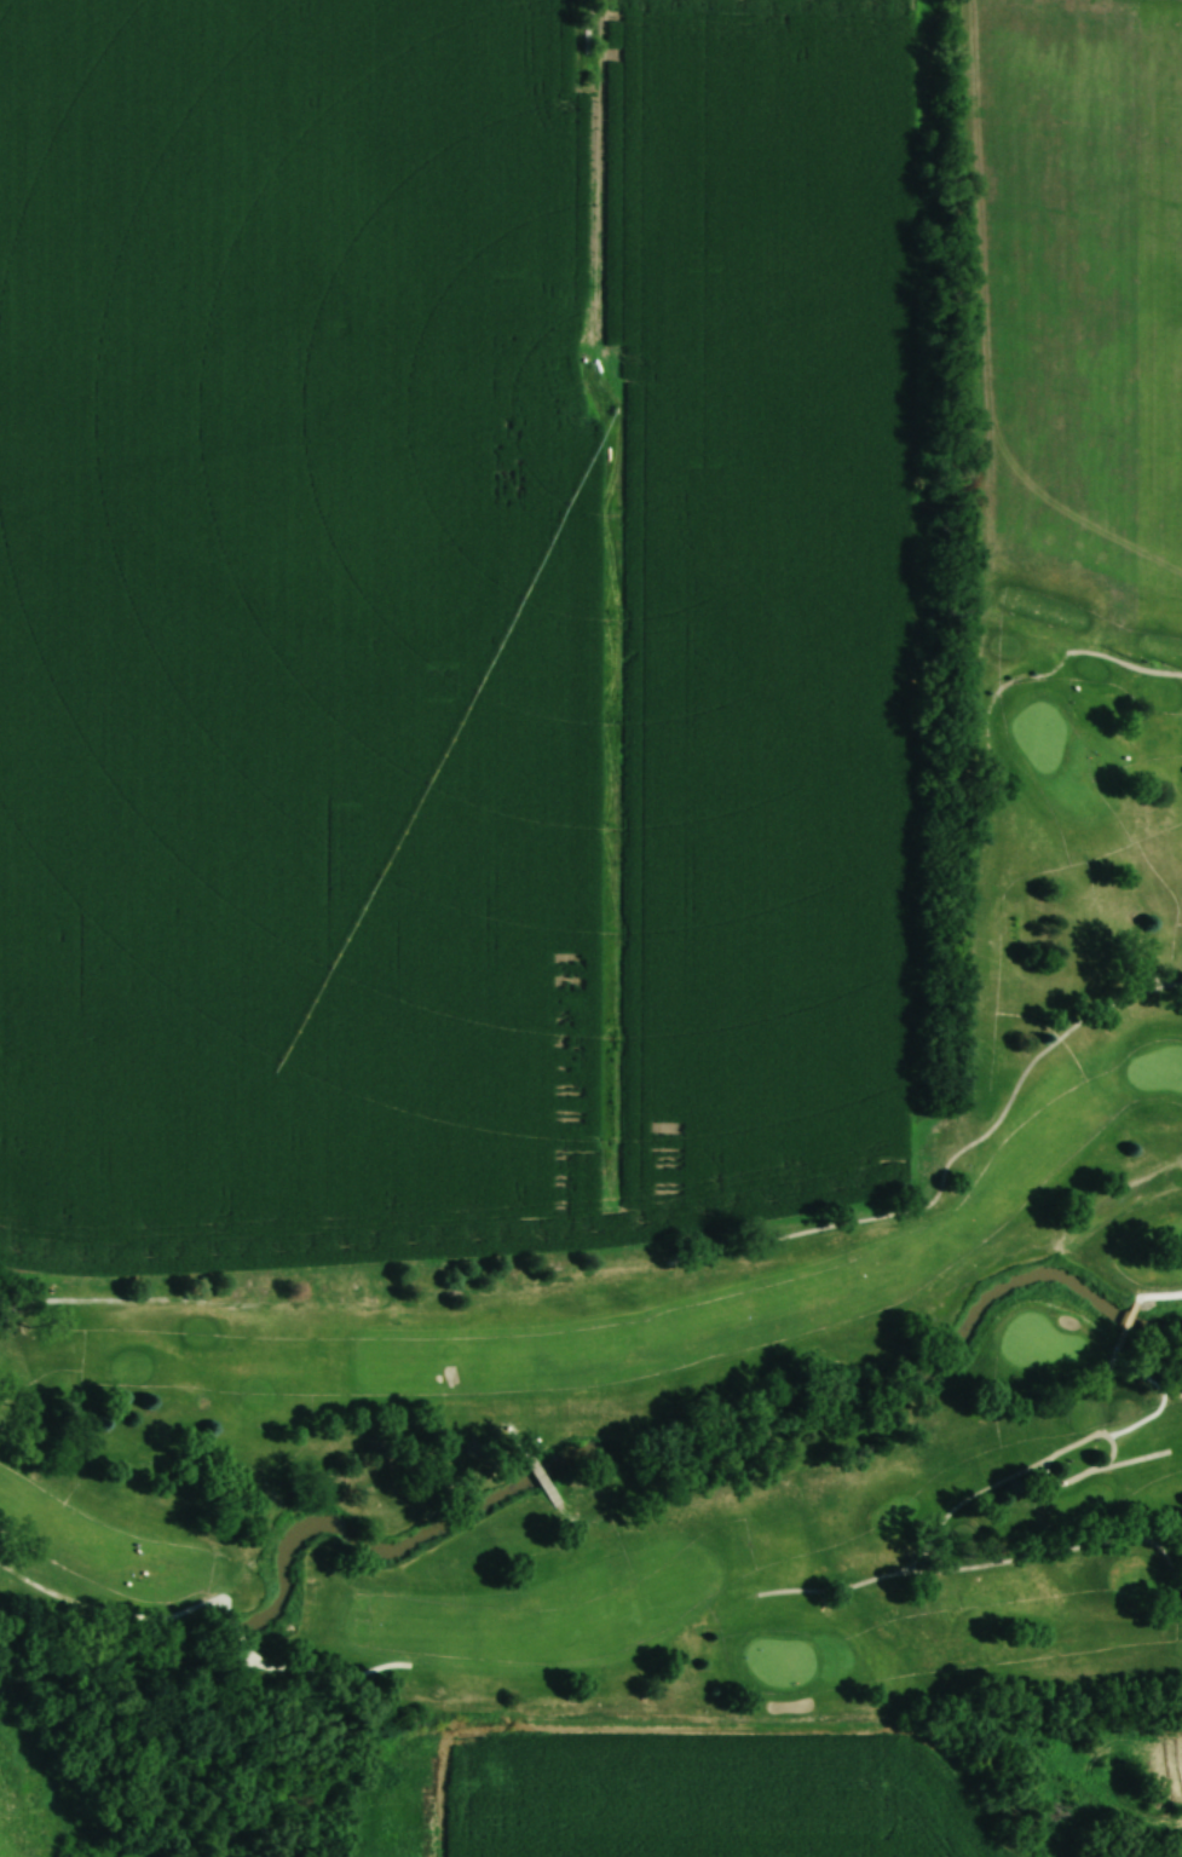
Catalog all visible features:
crop: (1086, 279)
road: (1043, 664)
road: (965, 1141)
road: (117, 1285)
road: (1161, 1287)
road: (1129, 1310)
park: (720, 1331)
road: (1119, 1431)
road: (1103, 1454)
road: (548, 1466)
road: (970, 1490)
road: (1054, 1538)
road: (91, 1599)
road: (225, 1624)
road: (299, 1649)

